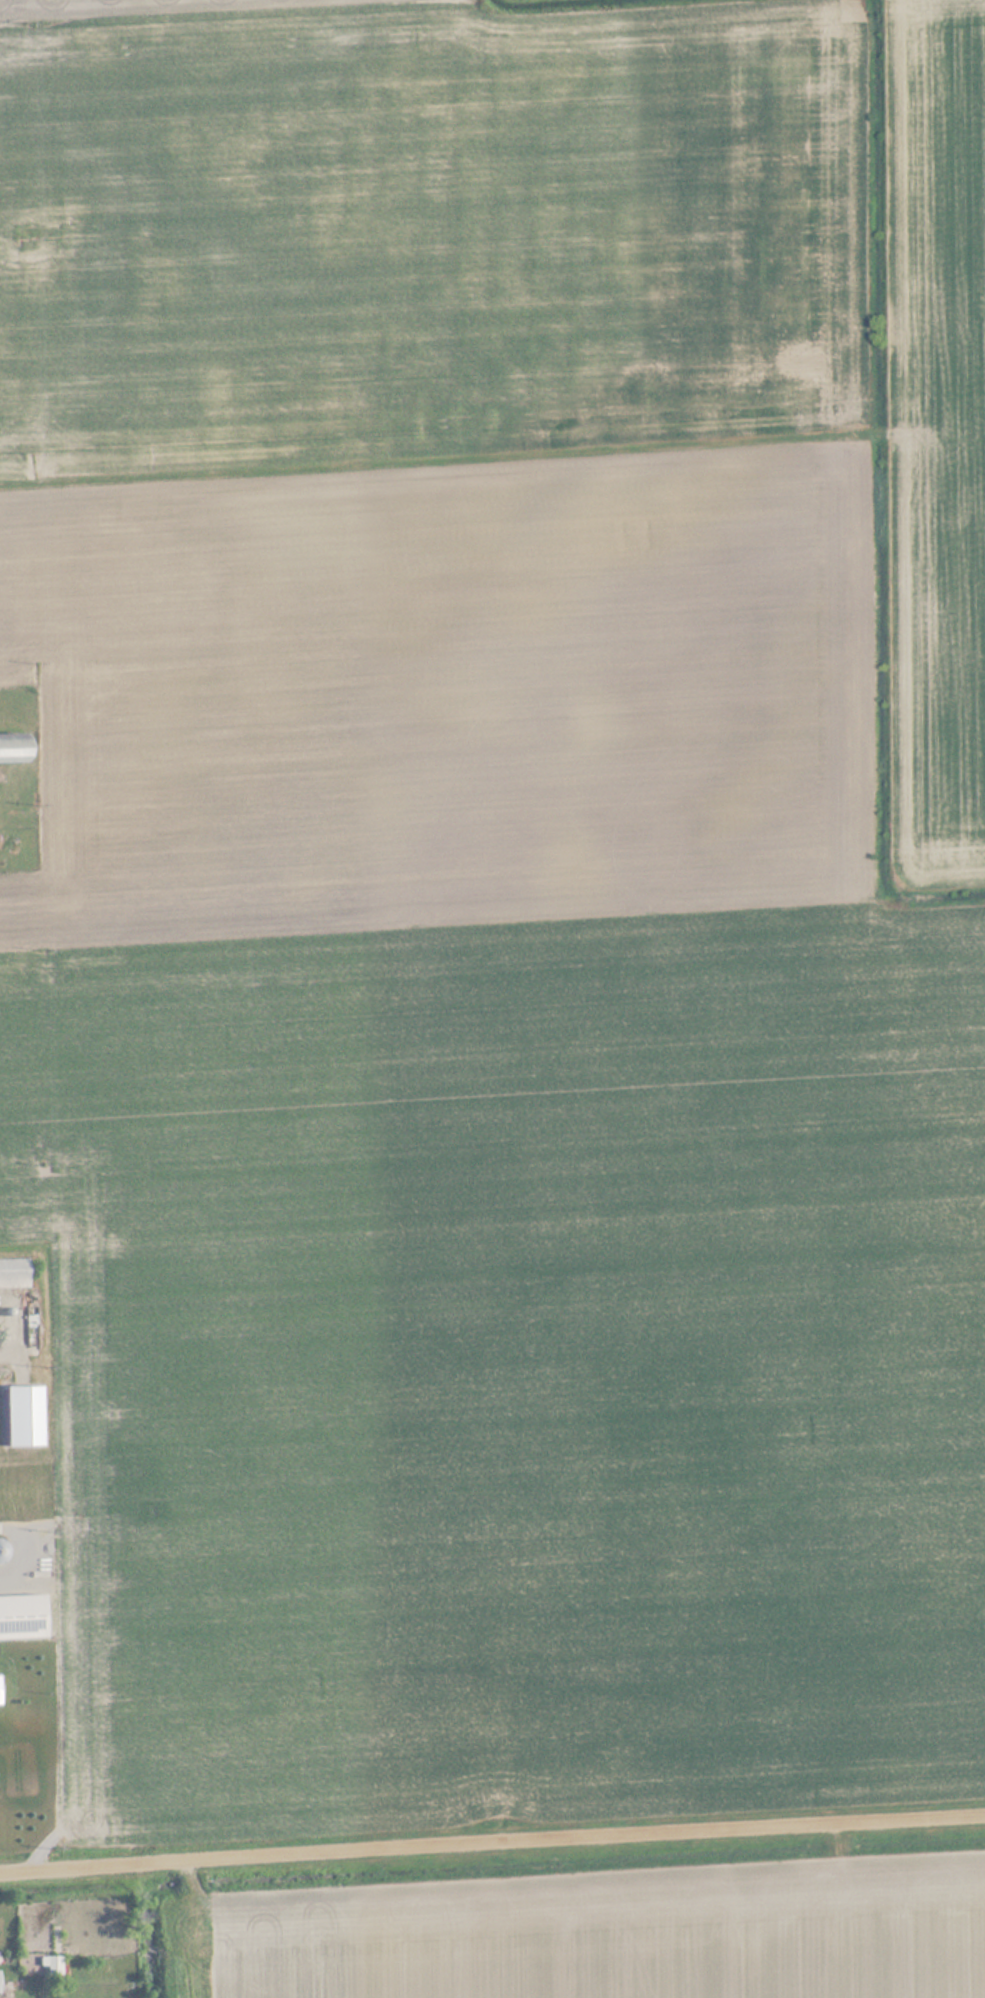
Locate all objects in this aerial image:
building: (12, 750)
building: (13, 1273)
building: (22, 1415)
building: (21, 1617)
road: (492, 1845)
building: (50, 1964)

